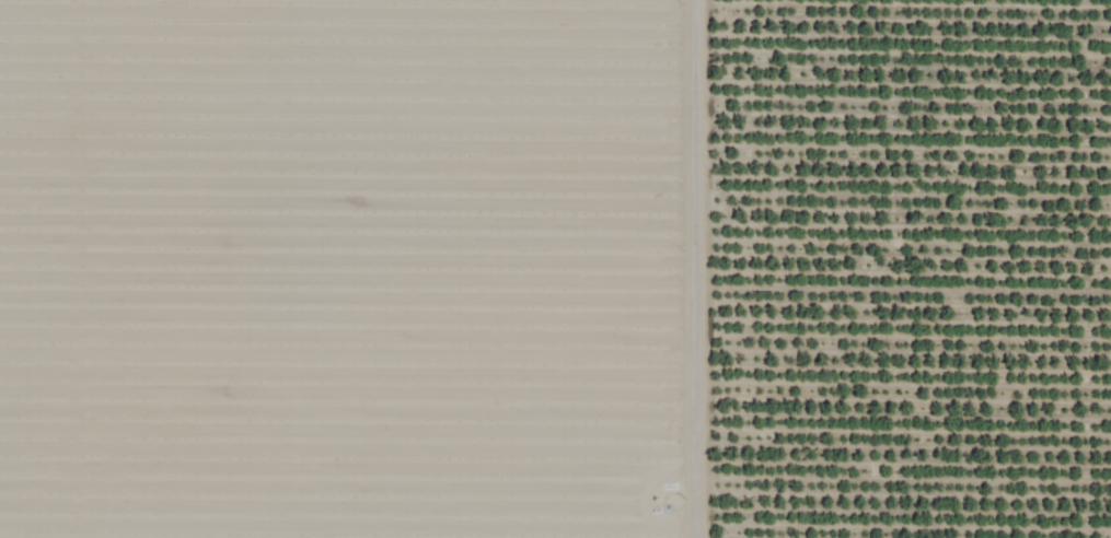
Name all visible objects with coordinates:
crop: (555, 269)
road: (698, 269)

